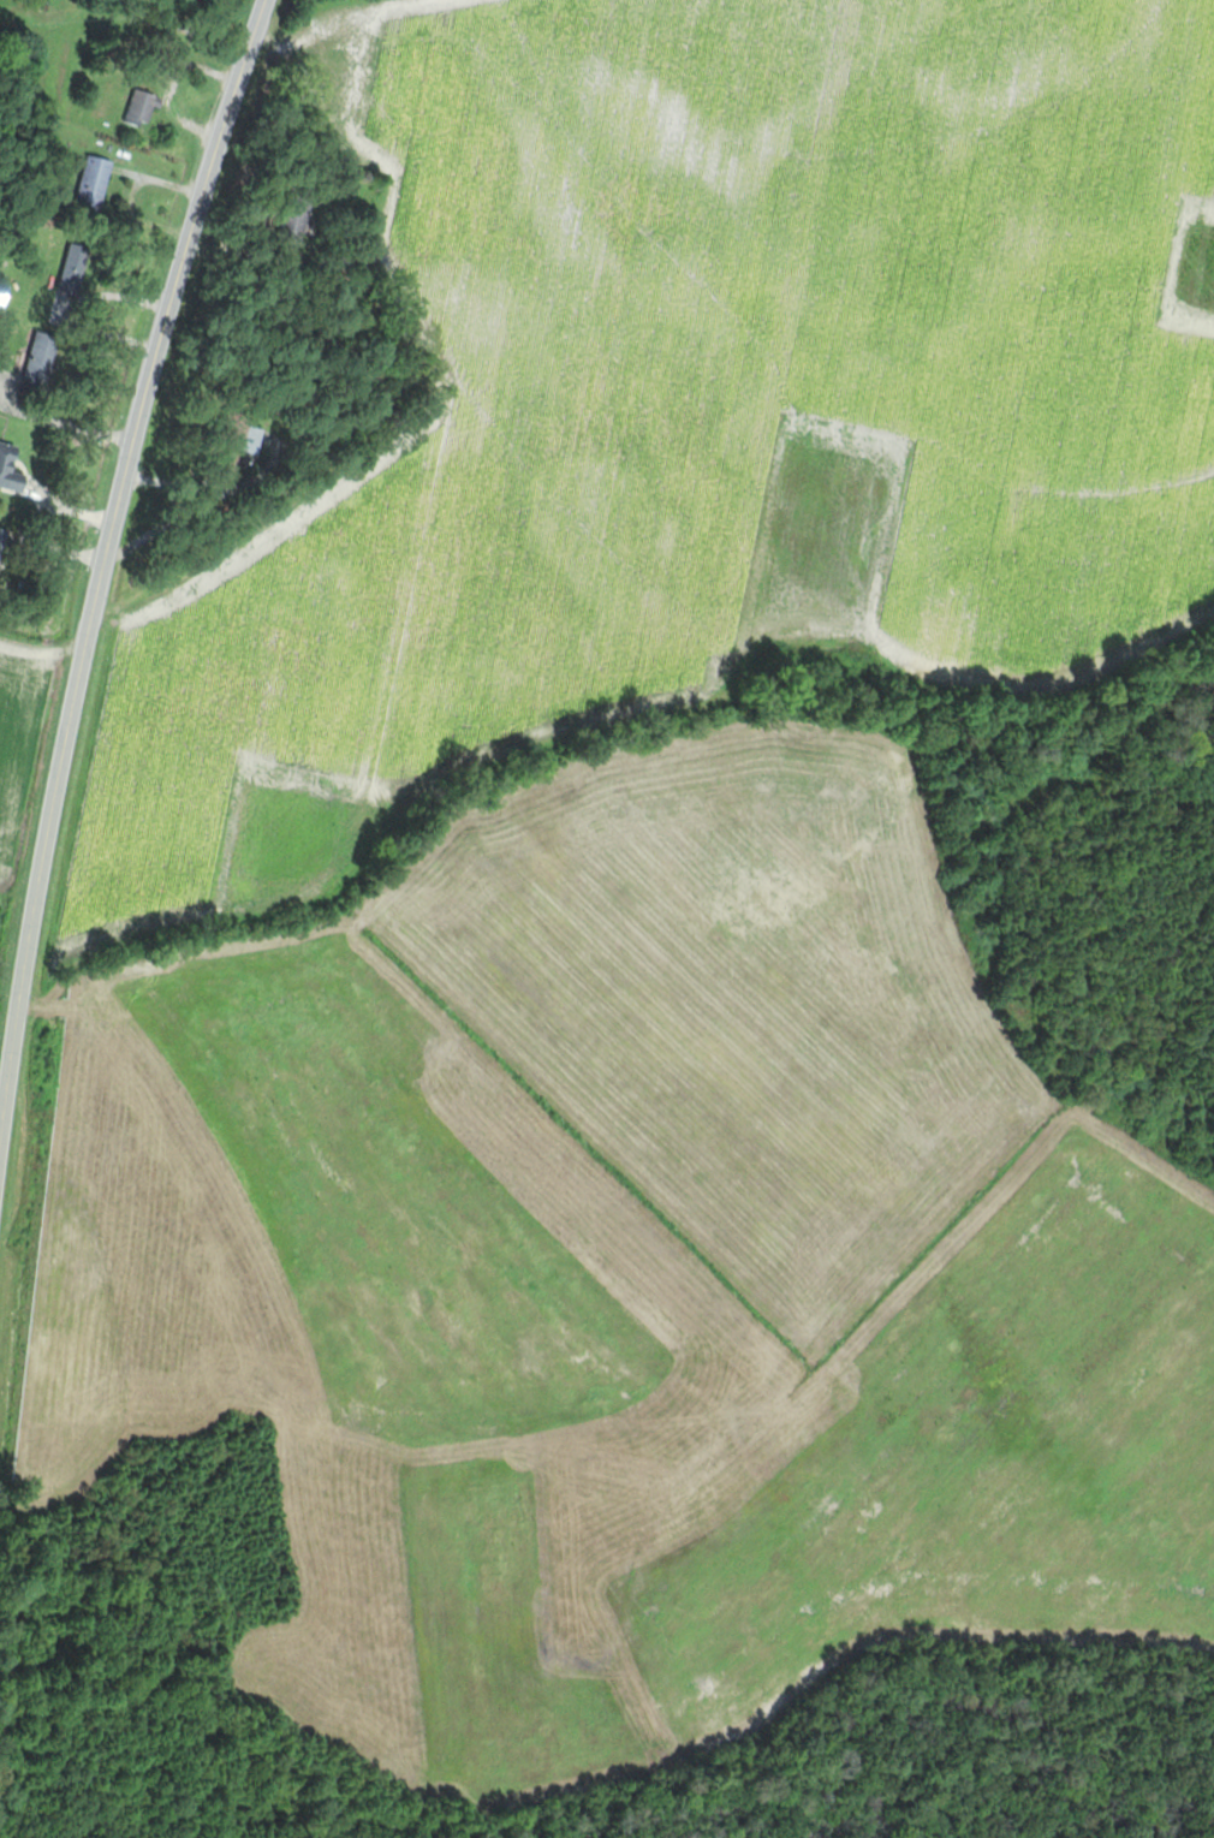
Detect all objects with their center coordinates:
road: (23, 7)
building: (144, 109)
building: (96, 184)
building: (299, 215)
building: (76, 269)
building: (43, 363)
building: (256, 441)
building: (12, 468)
building: (4, 546)
road: (105, 566)

